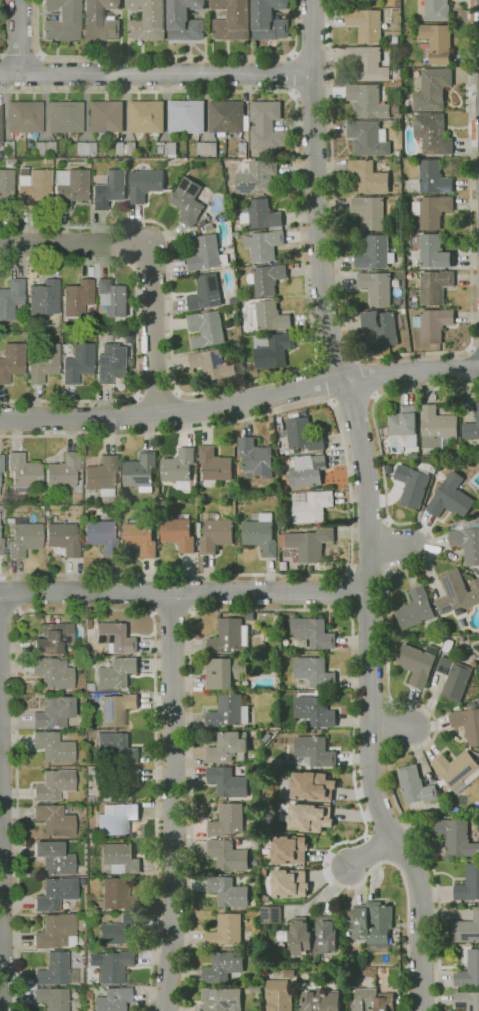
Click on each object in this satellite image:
building: (363, 2)
building: (436, 10)
building: (62, 20)
building: (99, 20)
building: (147, 20)
building: (184, 20)
building: (230, 20)
building: (268, 21)
building: (366, 24)
road: (2, 27)
road: (19, 37)
building: (395, 40)
building: (436, 43)
road: (21, 53)
road: (311, 55)
road: (166, 56)
building: (366, 64)
road: (39, 73)
road: (156, 73)
road: (293, 73)
building: (396, 73)
building: (432, 89)
road: (312, 92)
building: (366, 101)
building: (394, 112)
building: (24, 117)
building: (65, 117)
building: (146, 117)
building: (186, 117)
building: (105, 118)
building: (227, 119)
building: (266, 127)
building: (0, 128)
building: (432, 134)
building: (368, 138)
building: (45, 148)
building: (85, 148)
building: (121, 148)
building: (131, 148)
building: (206, 148)
building: (8, 150)
building: (166, 150)
building: (242, 150)
building: (257, 176)
building: (368, 176)
building: (432, 178)
building: (144, 184)
building: (69, 188)
building: (6, 189)
building: (109, 190)
building: (34, 191)
building: (187, 201)
building: (431, 210)
building: (368, 212)
building: (260, 215)
building: (235, 234)
building: (414, 240)
building: (263, 245)
building: (433, 252)
road: (152, 254)
building: (206, 254)
building: (375, 254)
building: (266, 279)
building: (434, 287)
building: (375, 288)
building: (205, 293)
building: (11, 298)
building: (77, 298)
building: (112, 298)
building: (44, 299)
building: (403, 310)
building: (268, 316)
road: (310, 318)
building: (433, 324)
building: (381, 327)
building: (206, 329)
road: (136, 333)
building: (235, 339)
road: (469, 350)
building: (274, 352)
road: (475, 352)
road: (406, 355)
road: (335, 358)
building: (11, 362)
building: (44, 363)
building: (78, 363)
building: (111, 363)
building: (212, 365)
road: (371, 377)
road: (320, 381)
road: (157, 392)
road: (353, 399)
road: (239, 400)
building: (404, 424)
building: (471, 427)
building: (436, 428)
building: (302, 435)
building: (255, 458)
building: (1, 464)
building: (178, 466)
building: (213, 466)
building: (63, 471)
building: (307, 471)
building: (24, 472)
building: (139, 472)
building: (102, 475)
building: (0, 477)
building: (412, 485)
road: (350, 492)
building: (450, 497)
building: (312, 507)
road: (367, 508)
building: (40, 519)
building: (282, 526)
building: (102, 533)
building: (177, 534)
building: (214, 534)
building: (260, 535)
building: (25, 538)
building: (63, 539)
building: (139, 539)
building: (467, 540)
building: (308, 544)
road: (388, 546)
building: (1, 547)
building: (478, 569)
road: (183, 592)
road: (349, 592)
building: (457, 594)
road: (85, 610)
road: (329, 610)
building: (417, 611)
road: (171, 613)
road: (10, 614)
building: (249, 616)
building: (90, 617)
building: (275, 622)
building: (312, 632)
building: (229, 637)
building: (53, 638)
building: (115, 638)
building: (461, 639)
building: (447, 646)
road: (387, 656)
building: (416, 664)
building: (223, 672)
building: (314, 672)
building: (53, 673)
building: (116, 673)
building: (453, 678)
building: (115, 709)
building: (228, 711)
building: (314, 711)
building: (53, 712)
building: (467, 724)
road: (390, 728)
building: (53, 747)
building: (227, 747)
building: (116, 748)
building: (314, 751)
building: (298, 767)
building: (457, 771)
building: (227, 782)
building: (118, 783)
building: (54, 784)
building: (310, 785)
building: (414, 786)
building: (88, 797)
road: (173, 802)
road: (0, 803)
building: (455, 809)
building: (308, 816)
building: (54, 820)
building: (117, 820)
building: (227, 821)
building: (92, 836)
building: (456, 838)
building: (93, 843)
building: (287, 850)
road: (371, 853)
building: (227, 856)
building: (54, 858)
building: (119, 858)
building: (288, 882)
building: (468, 883)
building: (227, 892)
building: (55, 894)
building: (116, 895)
building: (271, 915)
building: (80, 923)
building: (372, 925)
building: (466, 929)
building: (120, 931)
building: (225, 931)
building: (56, 932)
building: (312, 936)
building: (255, 952)
building: (111, 966)
building: (222, 966)
building: (56, 970)
building: (379, 971)
building: (468, 971)
building: (278, 996)
building: (53, 999)
building: (112, 999)
building: (220, 999)
building: (372, 1000)
building: (321, 1001)
building: (466, 1001)

